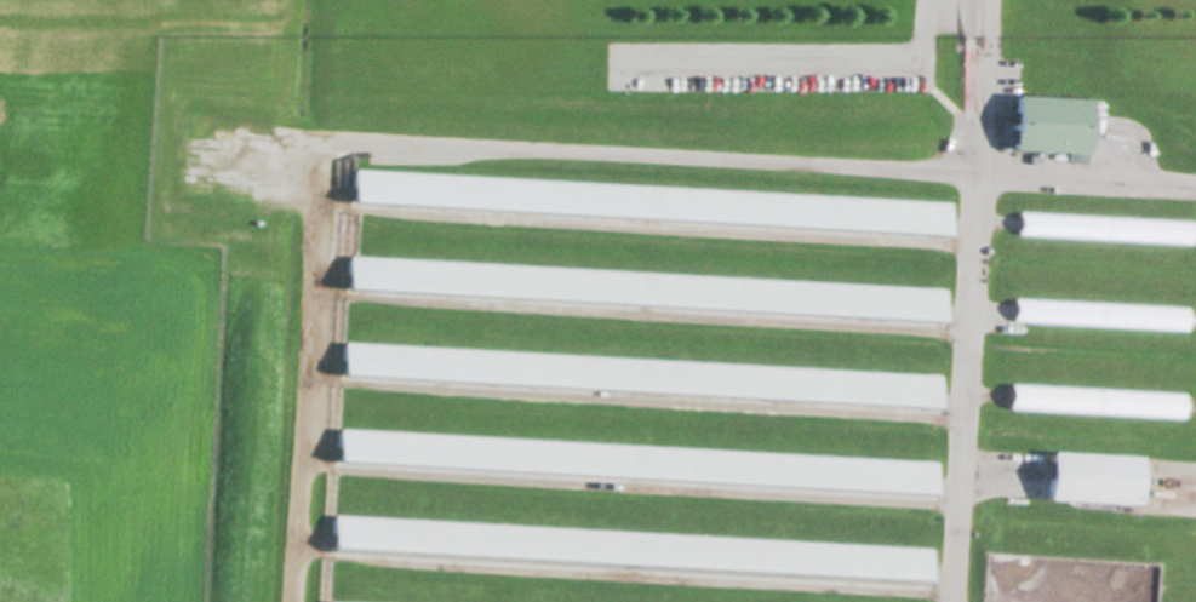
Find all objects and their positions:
road: (794, 61)
building: (1054, 126)
road: (530, 151)
building: (25, 166)
building: (651, 205)
building: (1104, 230)
building: (645, 291)
road: (966, 300)
building: (1099, 316)
building: (641, 377)
building: (1134, 406)
building: (637, 464)
building: (1098, 482)
building: (633, 551)

